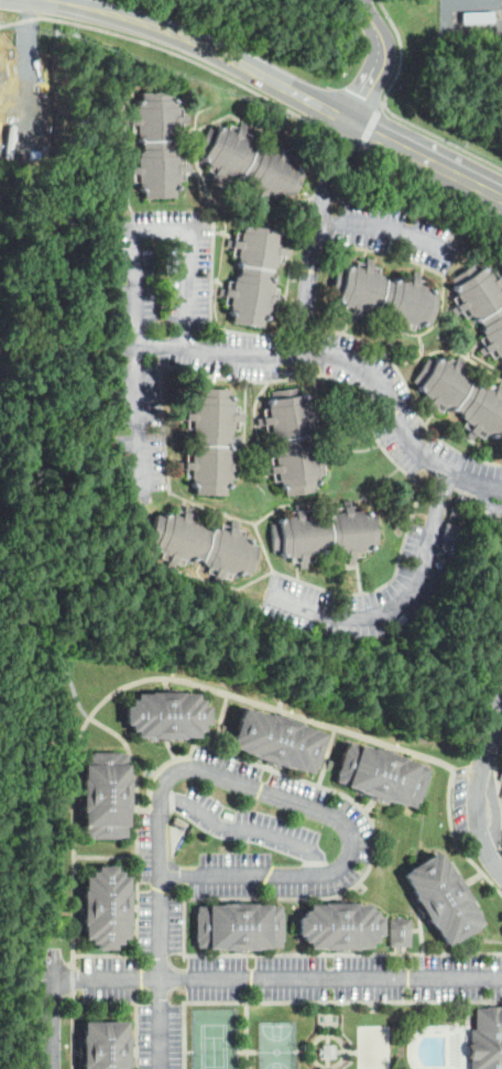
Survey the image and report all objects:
road: (365, 10)
street lamp: (384, 14)
road: (6, 17)
road: (165, 29)
road: (383, 43)
road: (401, 51)
street lamp: (343, 80)
road: (264, 94)
road: (363, 94)
road: (306, 97)
road: (371, 124)
road: (374, 132)
road: (440, 137)
building: (157, 142)
road: (128, 144)
building: (251, 162)
road: (129, 168)
road: (445, 168)
road: (194, 172)
road: (208, 176)
road: (129, 192)
road: (495, 194)
road: (239, 203)
road: (133, 219)
road: (384, 226)
road: (223, 231)
road: (315, 234)
road: (471, 259)
road: (421, 263)
building: (254, 271)
road: (219, 280)
road: (137, 281)
road: (287, 292)
road: (283, 294)
building: (384, 296)
building: (481, 304)
road: (346, 323)
road: (68, 327)
road: (236, 330)
road: (391, 341)
road: (422, 345)
road: (451, 349)
road: (472, 349)
road: (347, 358)
road: (32, 371)
road: (499, 380)
road: (317, 391)
building: (462, 394)
road: (257, 412)
road: (244, 414)
road: (430, 416)
road: (459, 434)
building: (211, 439)
building: (293, 440)
road: (350, 449)
road: (245, 458)
road: (434, 484)
road: (477, 497)
building: (459, 499)
road: (332, 500)
building: (456, 512)
building: (450, 532)
building: (325, 534)
building: (203, 545)
road: (297, 571)
road: (396, 571)
road: (360, 582)
road: (226, 590)
road: (402, 601)
road: (156, 617)
road: (166, 683)
road: (215, 688)
road: (285, 713)
building: (166, 715)
road: (221, 720)
building: (276, 740)
road: (390, 746)
road: (172, 750)
road: (327, 755)
building: (379, 773)
road: (477, 784)
road: (77, 794)
building: (106, 794)
road: (133, 794)
road: (499, 796)
parking lot: (460, 800)
road: (368, 806)
road: (494, 806)
road: (318, 808)
building: (227, 815)
parking lot: (361, 821)
road: (371, 821)
road: (137, 825)
parking lot: (249, 826)
road: (244, 828)
road: (106, 855)
parking lot: (234, 858)
road: (454, 869)
road: (473, 877)
parking lot: (145, 882)
road: (465, 883)
building: (440, 897)
road: (472, 899)
building: (106, 906)
road: (134, 906)
road: (76, 907)
road: (161, 914)
parking lot: (176, 925)
building: (338, 925)
building: (238, 926)
road: (415, 929)
building: (400, 931)
road: (421, 935)
parking lot: (57, 953)
road: (343, 953)
road: (106, 955)
street lamp: (174, 957)
parking lot: (345, 961)
parking lot: (111, 962)
road: (280, 975)
road: (74, 979)
parking lot: (111, 992)
parking lot: (345, 992)
road: (309, 1001)
road: (138, 1002)
road: (161, 1011)
road: (468, 1011)
parking lot: (47, 1023)
road: (468, 1024)
road: (54, 1025)
road: (74, 1028)
road: (327, 1034)
road: (247, 1035)
road: (328, 1035)
parking lot: (145, 1036)
parking lot: (175, 1036)
building: (487, 1038)
park: (276, 1044)
building: (106, 1045)
park: (214, 1046)
street lamp: (299, 1046)
park: (373, 1047)
street lamp: (393, 1047)
road: (468, 1047)
street lamp: (234, 1048)
road: (76, 1050)
road: (188, 1050)
road: (249, 1050)
road: (297, 1050)
road: (307, 1050)
road: (319, 1050)
building: (328, 1050)
road: (343, 1050)
road: (135, 1051)
street lamp: (198, 1056)
street lamp: (67, 1058)
street lamp: (255, 1059)

